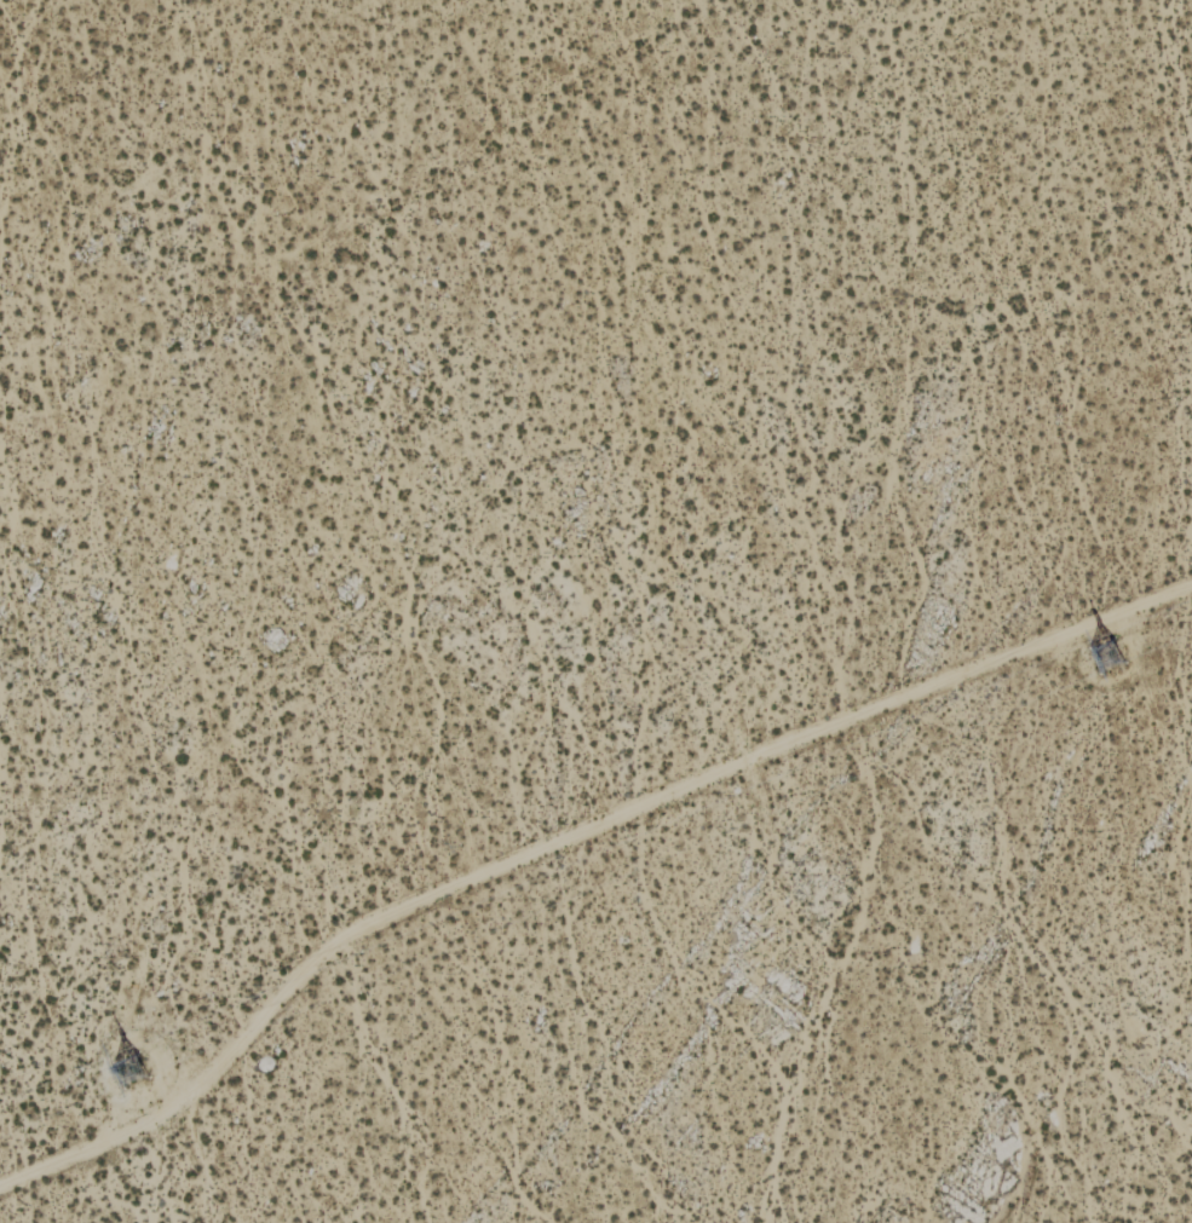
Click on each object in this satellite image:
power tower: (1082, 664)
road: (565, 837)
power tower: (140, 1080)

